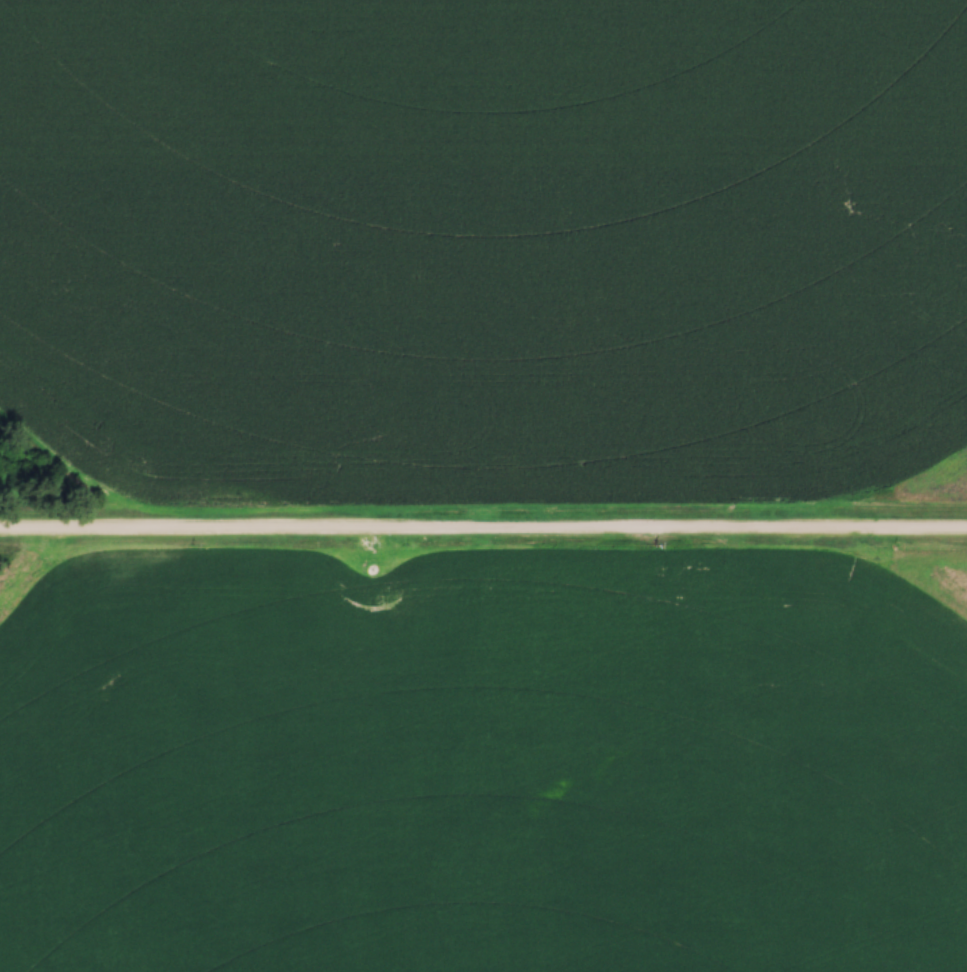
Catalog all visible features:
road: (483, 531)

